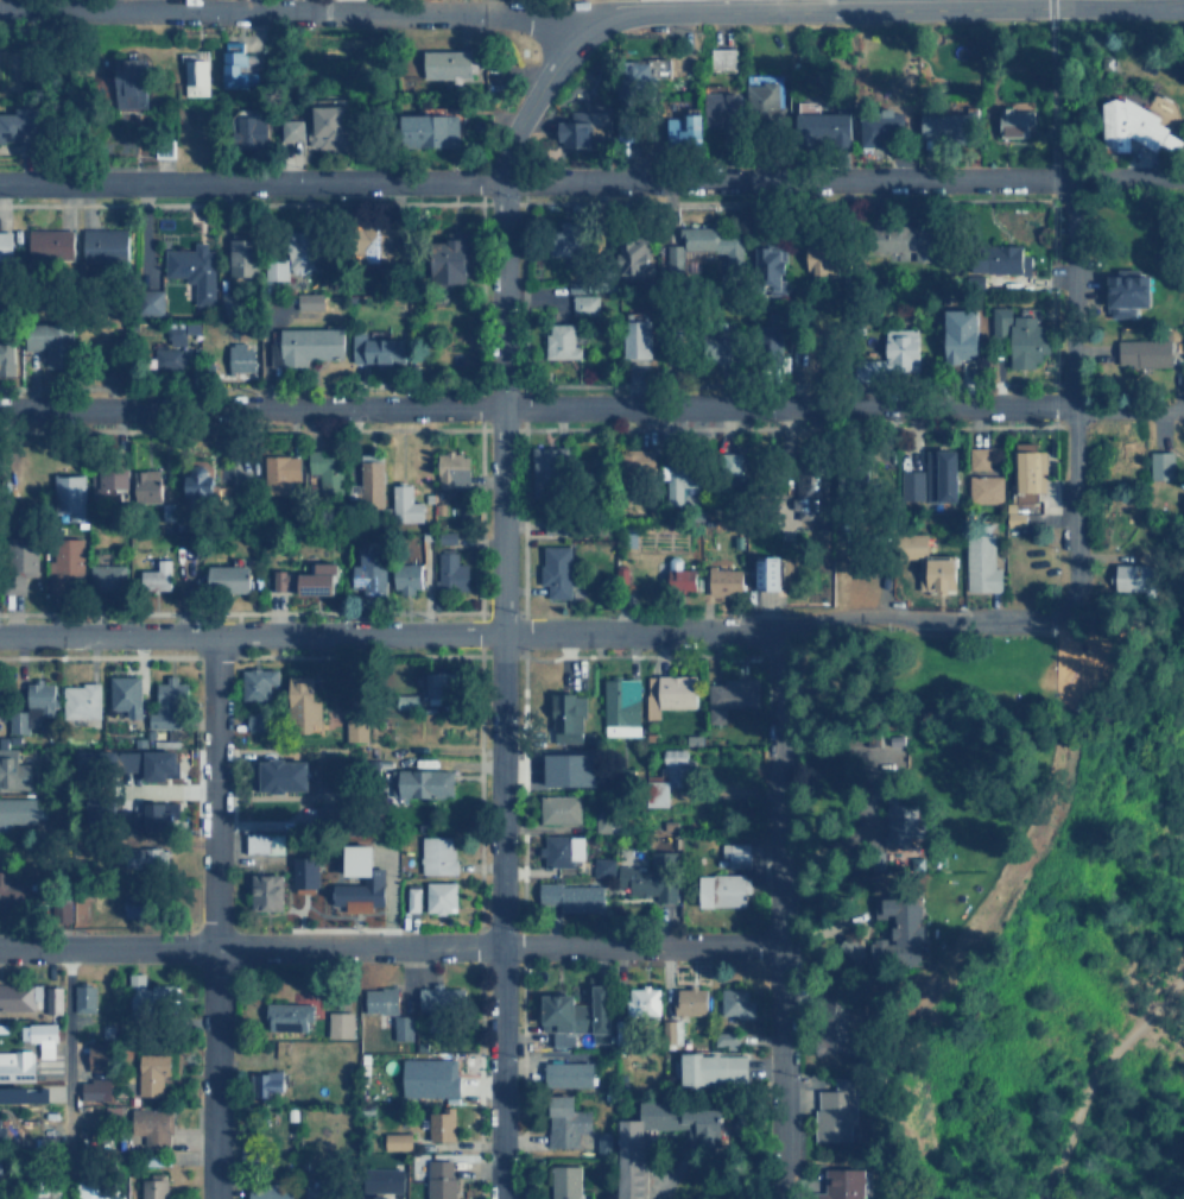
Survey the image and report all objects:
road: (891, 7)
road: (299, 12)
building: (721, 59)
building: (448, 63)
building: (641, 75)
building: (196, 76)
building: (129, 81)
building: (762, 99)
building: (721, 108)
building: (1015, 120)
building: (328, 122)
building: (822, 124)
building: (943, 124)
building: (17, 126)
building: (252, 126)
building: (684, 127)
building: (295, 128)
building: (576, 128)
building: (881, 128)
building: (431, 130)
building: (1134, 130)
road: (1127, 177)
road: (536, 183)
building: (570, 238)
building: (378, 242)
building: (6, 244)
building: (51, 244)
building: (105, 245)
building: (704, 245)
building: (303, 252)
building: (242, 255)
building: (1000, 258)
building: (452, 259)
building: (637, 259)
building: (822, 259)
building: (194, 269)
building: (770, 269)
building: (276, 270)
building: (974, 282)
building: (578, 288)
building: (1128, 291)
building: (310, 301)
building: (153, 302)
building: (583, 304)
road: (500, 308)
building: (964, 334)
building: (176, 335)
building: (1021, 336)
building: (639, 337)
building: (562, 341)
building: (51, 342)
building: (305, 345)
building: (378, 348)
building: (900, 349)
building: (1145, 352)
building: (167, 356)
building: (240, 356)
building: (7, 358)
road: (591, 408)
building: (639, 459)
building: (980, 459)
building: (1161, 465)
building: (281, 467)
building: (549, 467)
building: (1030, 467)
building: (325, 469)
building: (452, 472)
building: (943, 474)
building: (679, 481)
building: (371, 482)
building: (108, 484)
building: (147, 485)
building: (201, 485)
building: (912, 485)
building: (984, 488)
building: (69, 496)
building: (808, 497)
building: (405, 504)
building: (1015, 515)
building: (552, 523)
building: (447, 536)
road: (1072, 539)
building: (916, 544)
building: (23, 562)
building: (67, 564)
building: (982, 564)
building: (451, 569)
building: (557, 569)
building: (369, 573)
building: (772, 573)
building: (938, 573)
building: (157, 575)
building: (407, 576)
building: (108, 578)
building: (229, 578)
building: (683, 579)
building: (306, 580)
building: (726, 580)
road: (637, 631)
road: (249, 633)
park: (951, 676)
building: (259, 682)
building: (442, 683)
building: (730, 692)
building: (669, 693)
building: (127, 694)
building: (352, 696)
building: (81, 700)
building: (167, 702)
building: (305, 703)
building: (34, 705)
building: (621, 707)
building: (568, 718)
building: (260, 721)
building: (356, 730)
building: (886, 739)
building: (162, 763)
building: (570, 770)
building: (15, 771)
building: (287, 775)
building: (667, 777)
building: (426, 783)
building: (559, 809)
building: (17, 810)
building: (901, 815)
building: (154, 816)
building: (603, 823)
building: (265, 843)
building: (563, 848)
building: (736, 853)
building: (437, 854)
building: (148, 859)
building: (604, 866)
building: (305, 875)
building: (380, 879)
building: (895, 879)
building: (650, 881)
building: (726, 890)
building: (268, 892)
building: (12, 895)
building: (441, 896)
building: (572, 896)
building: (413, 898)
building: (69, 909)
building: (139, 911)
road: (778, 914)
road: (496, 915)
road: (214, 916)
building: (908, 925)
road: (388, 945)
building: (881, 948)
building: (15, 996)
building: (84, 997)
building: (150, 997)
building: (53, 999)
building: (382, 999)
building: (644, 1001)
building: (691, 1001)
building: (736, 1002)
building: (439, 1003)
building: (576, 1014)
building: (289, 1016)
building: (341, 1024)
building: (403, 1027)
building: (670, 1030)
building: (42, 1037)
building: (726, 1039)
building: (100, 1054)
building: (17, 1065)
building: (714, 1068)
road: (1096, 1068)
road: (63, 1072)
building: (152, 1072)
building: (569, 1074)
building: (431, 1077)
building: (268, 1081)
building: (96, 1090)
building: (24, 1094)
building: (837, 1111)
building: (568, 1121)
building: (152, 1125)
building: (442, 1125)
building: (1, 1132)
building: (398, 1141)
building: (2, 1166)
building: (633, 1168)
building: (384, 1179)
building: (441, 1179)
building: (565, 1182)
building: (844, 1184)
building: (156, 1186)
building: (94, 1188)
building: (318, 1191)
building: (0, 1193)
building: (272, 1193)
building: (42, 1197)
building: (375, 1197)

